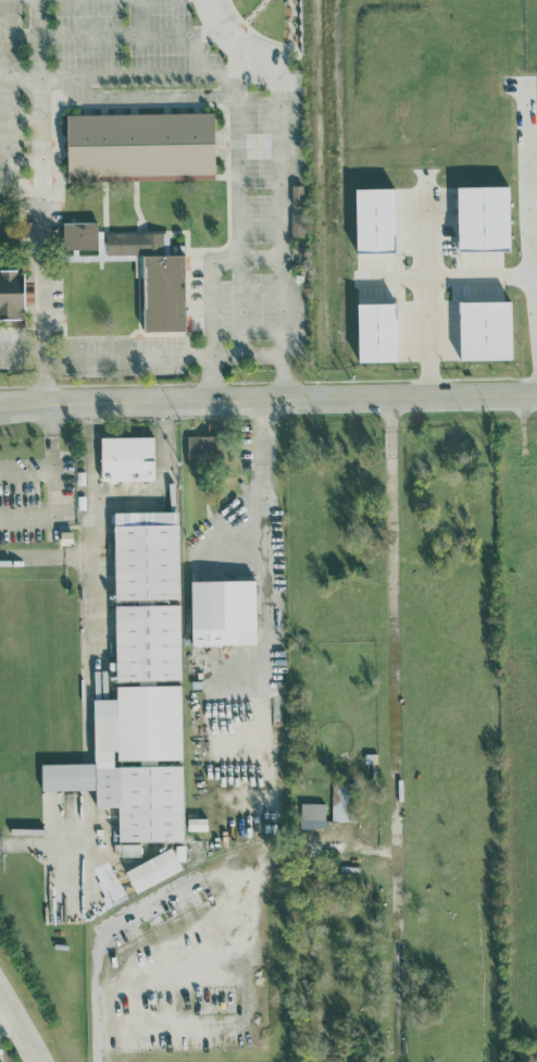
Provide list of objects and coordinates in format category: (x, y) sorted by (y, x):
road: (128, 34)
road: (38, 37)
road: (243, 67)
road: (238, 115)
road: (20, 119)
road: (40, 123)
building: (139, 145)
road: (280, 159)
road: (21, 162)
building: (297, 194)
building: (484, 215)
building: (372, 219)
building: (296, 222)
building: (78, 234)
road: (534, 259)
road: (213, 273)
road: (448, 276)
building: (154, 277)
road: (427, 287)
building: (10, 295)
building: (484, 329)
building: (377, 332)
road: (23, 348)
road: (115, 355)
road: (212, 376)
road: (47, 378)
road: (268, 399)
road: (48, 437)
building: (204, 448)
building: (127, 457)
road: (161, 478)
road: (50, 495)
road: (45, 553)
building: (146, 554)
road: (264, 570)
road: (90, 577)
building: (147, 601)
building: (223, 612)
building: (147, 641)
road: (394, 730)
building: (103, 761)
building: (137, 762)
building: (340, 801)
building: (312, 810)
building: (197, 823)
road: (42, 843)
building: (130, 850)
building: (154, 868)
road: (5, 1015)
road: (20, 1027)

